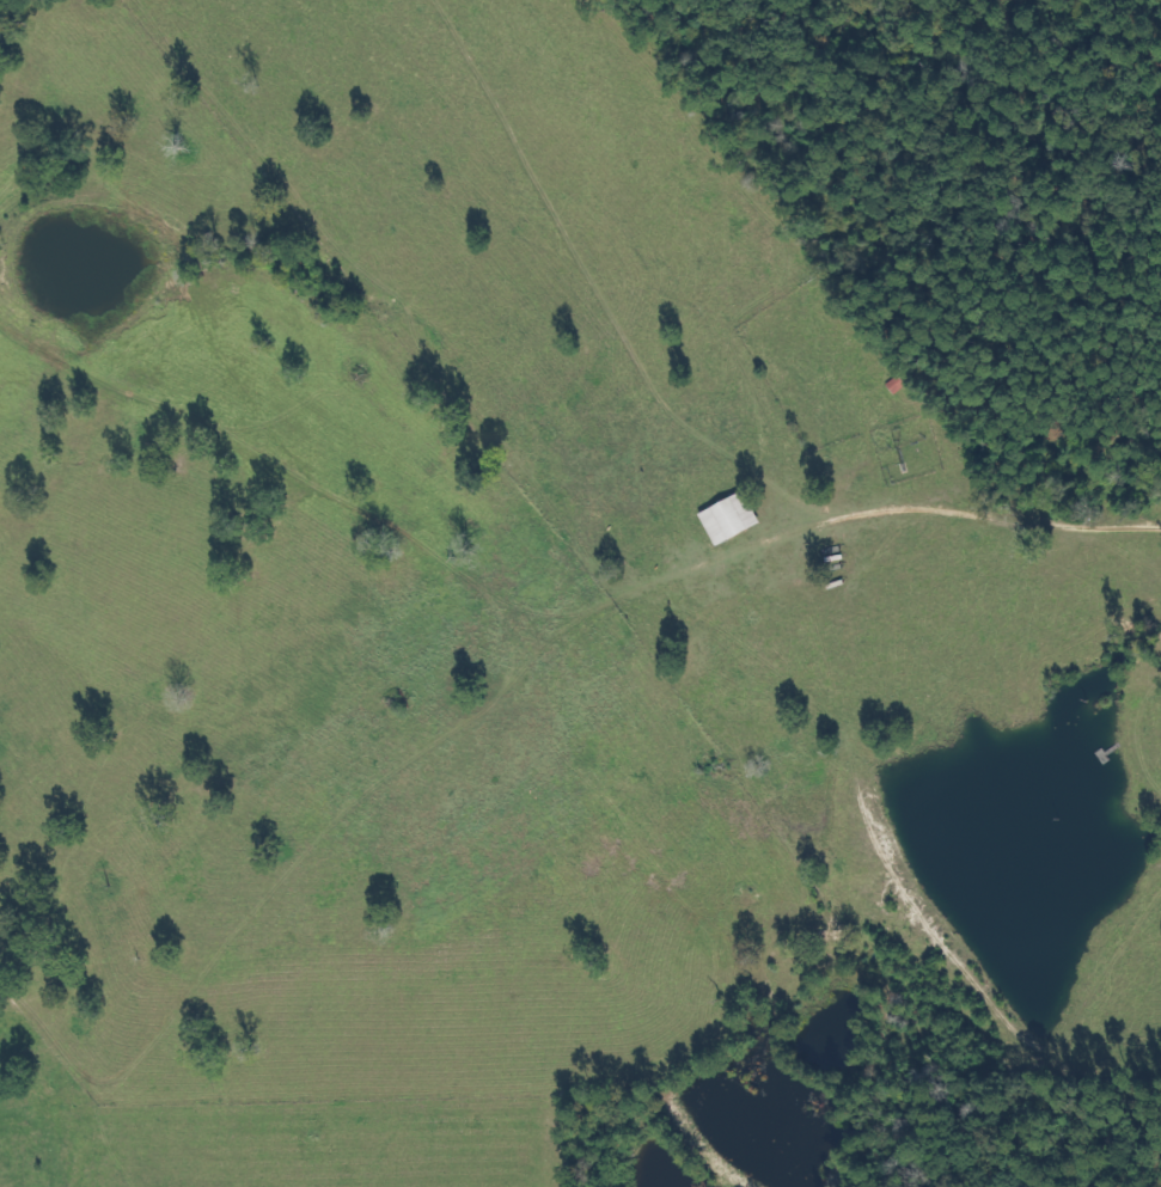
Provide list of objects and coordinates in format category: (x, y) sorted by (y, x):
building: (728, 518)
road: (860, 580)

